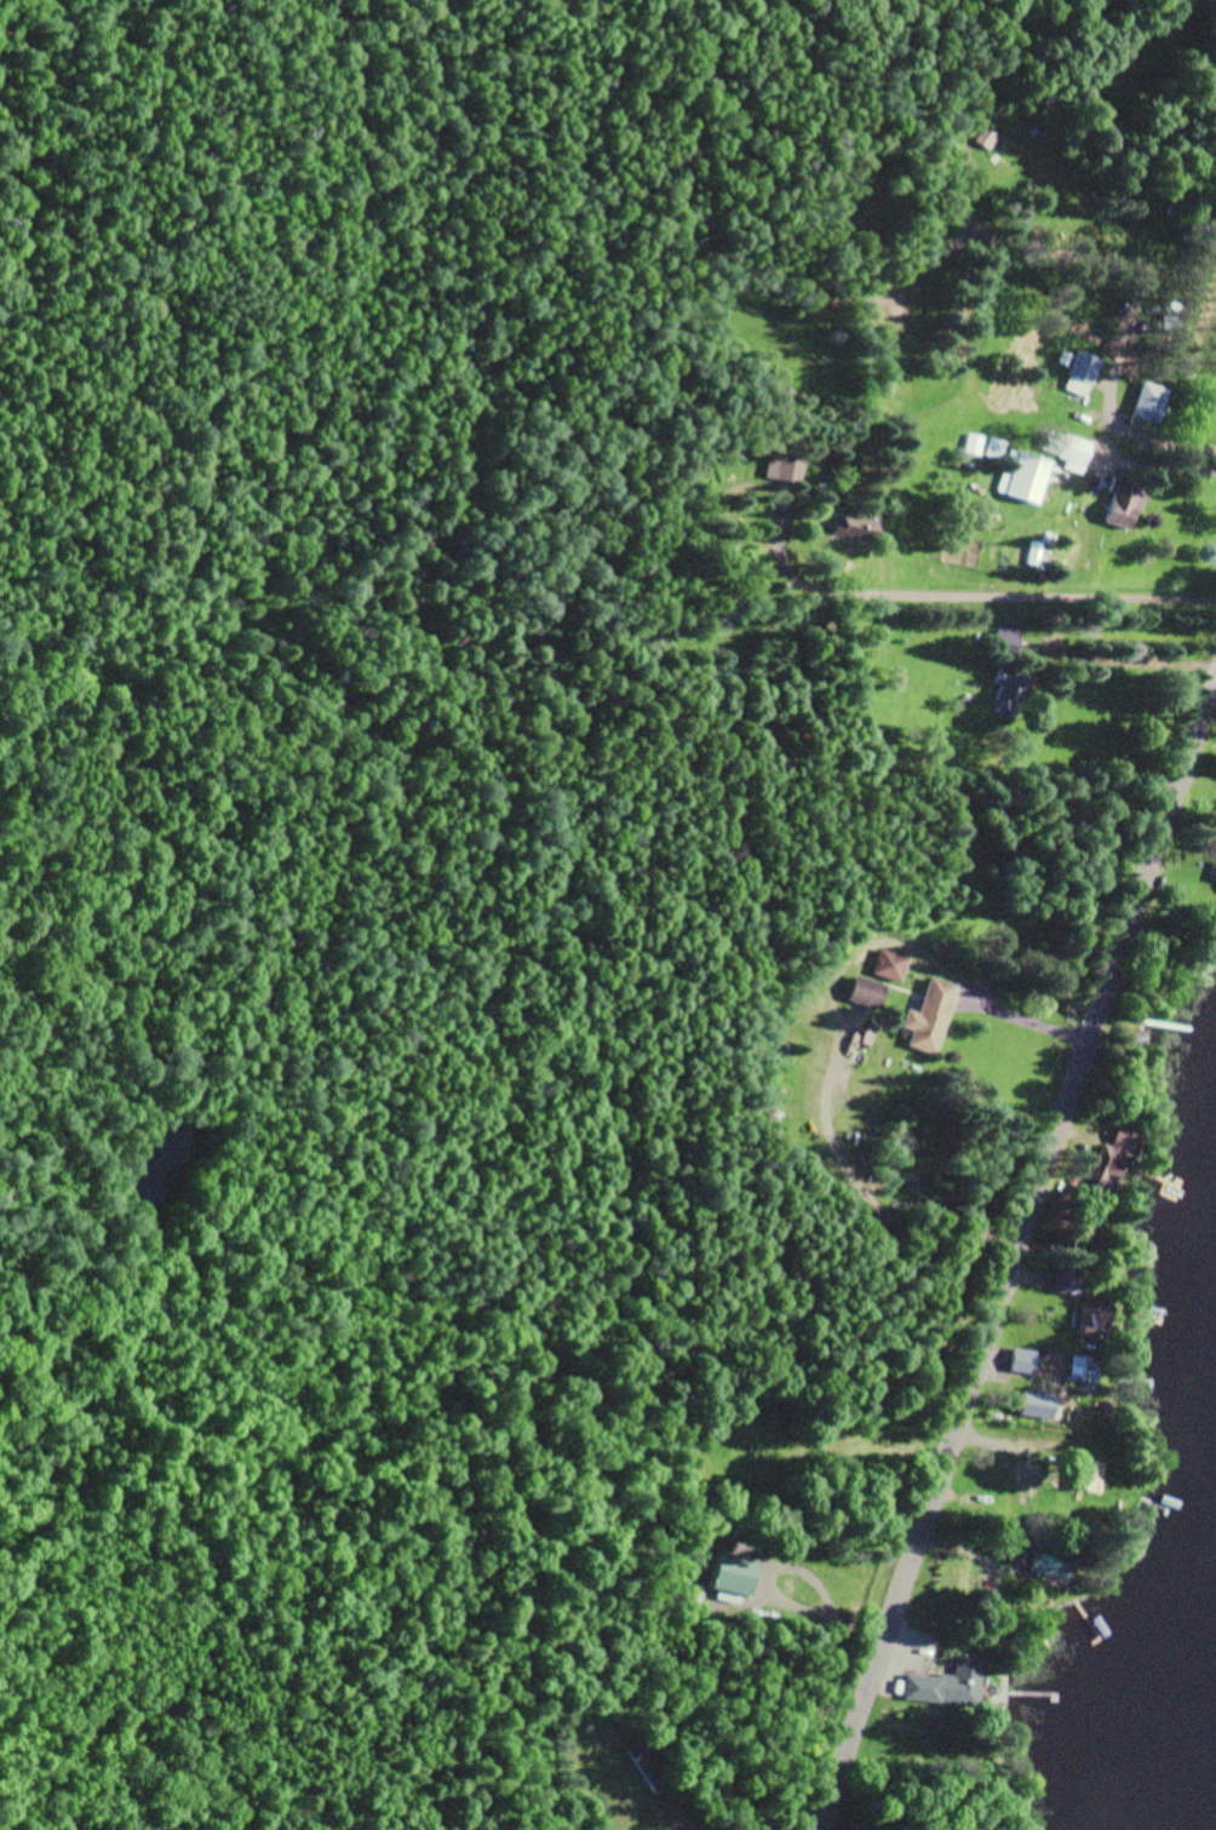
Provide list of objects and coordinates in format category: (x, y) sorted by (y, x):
building: (986, 142)
building: (1003, 153)
building: (1057, 166)
building: (1084, 366)
building: (1149, 402)
building: (975, 444)
building: (996, 449)
building: (1067, 449)
building: (786, 469)
building: (1025, 476)
building: (1123, 504)
building: (857, 529)
building: (853, 539)
building: (1006, 637)
building: (1009, 692)
building: (1215, 887)
building: (894, 965)
building: (870, 992)
building: (930, 1017)
building: (1137, 1038)
building: (1114, 1157)
building: (1091, 1227)
road: (1015, 1257)
building: (1066, 1281)
building: (1096, 1321)
building: (1022, 1360)
building: (1010, 1361)
building: (1084, 1371)
building: (1037, 1404)
building: (1020, 1472)
building: (1089, 1475)
building: (1051, 1562)
building: (732, 1574)
building: (948, 1683)
building: (643, 1767)

